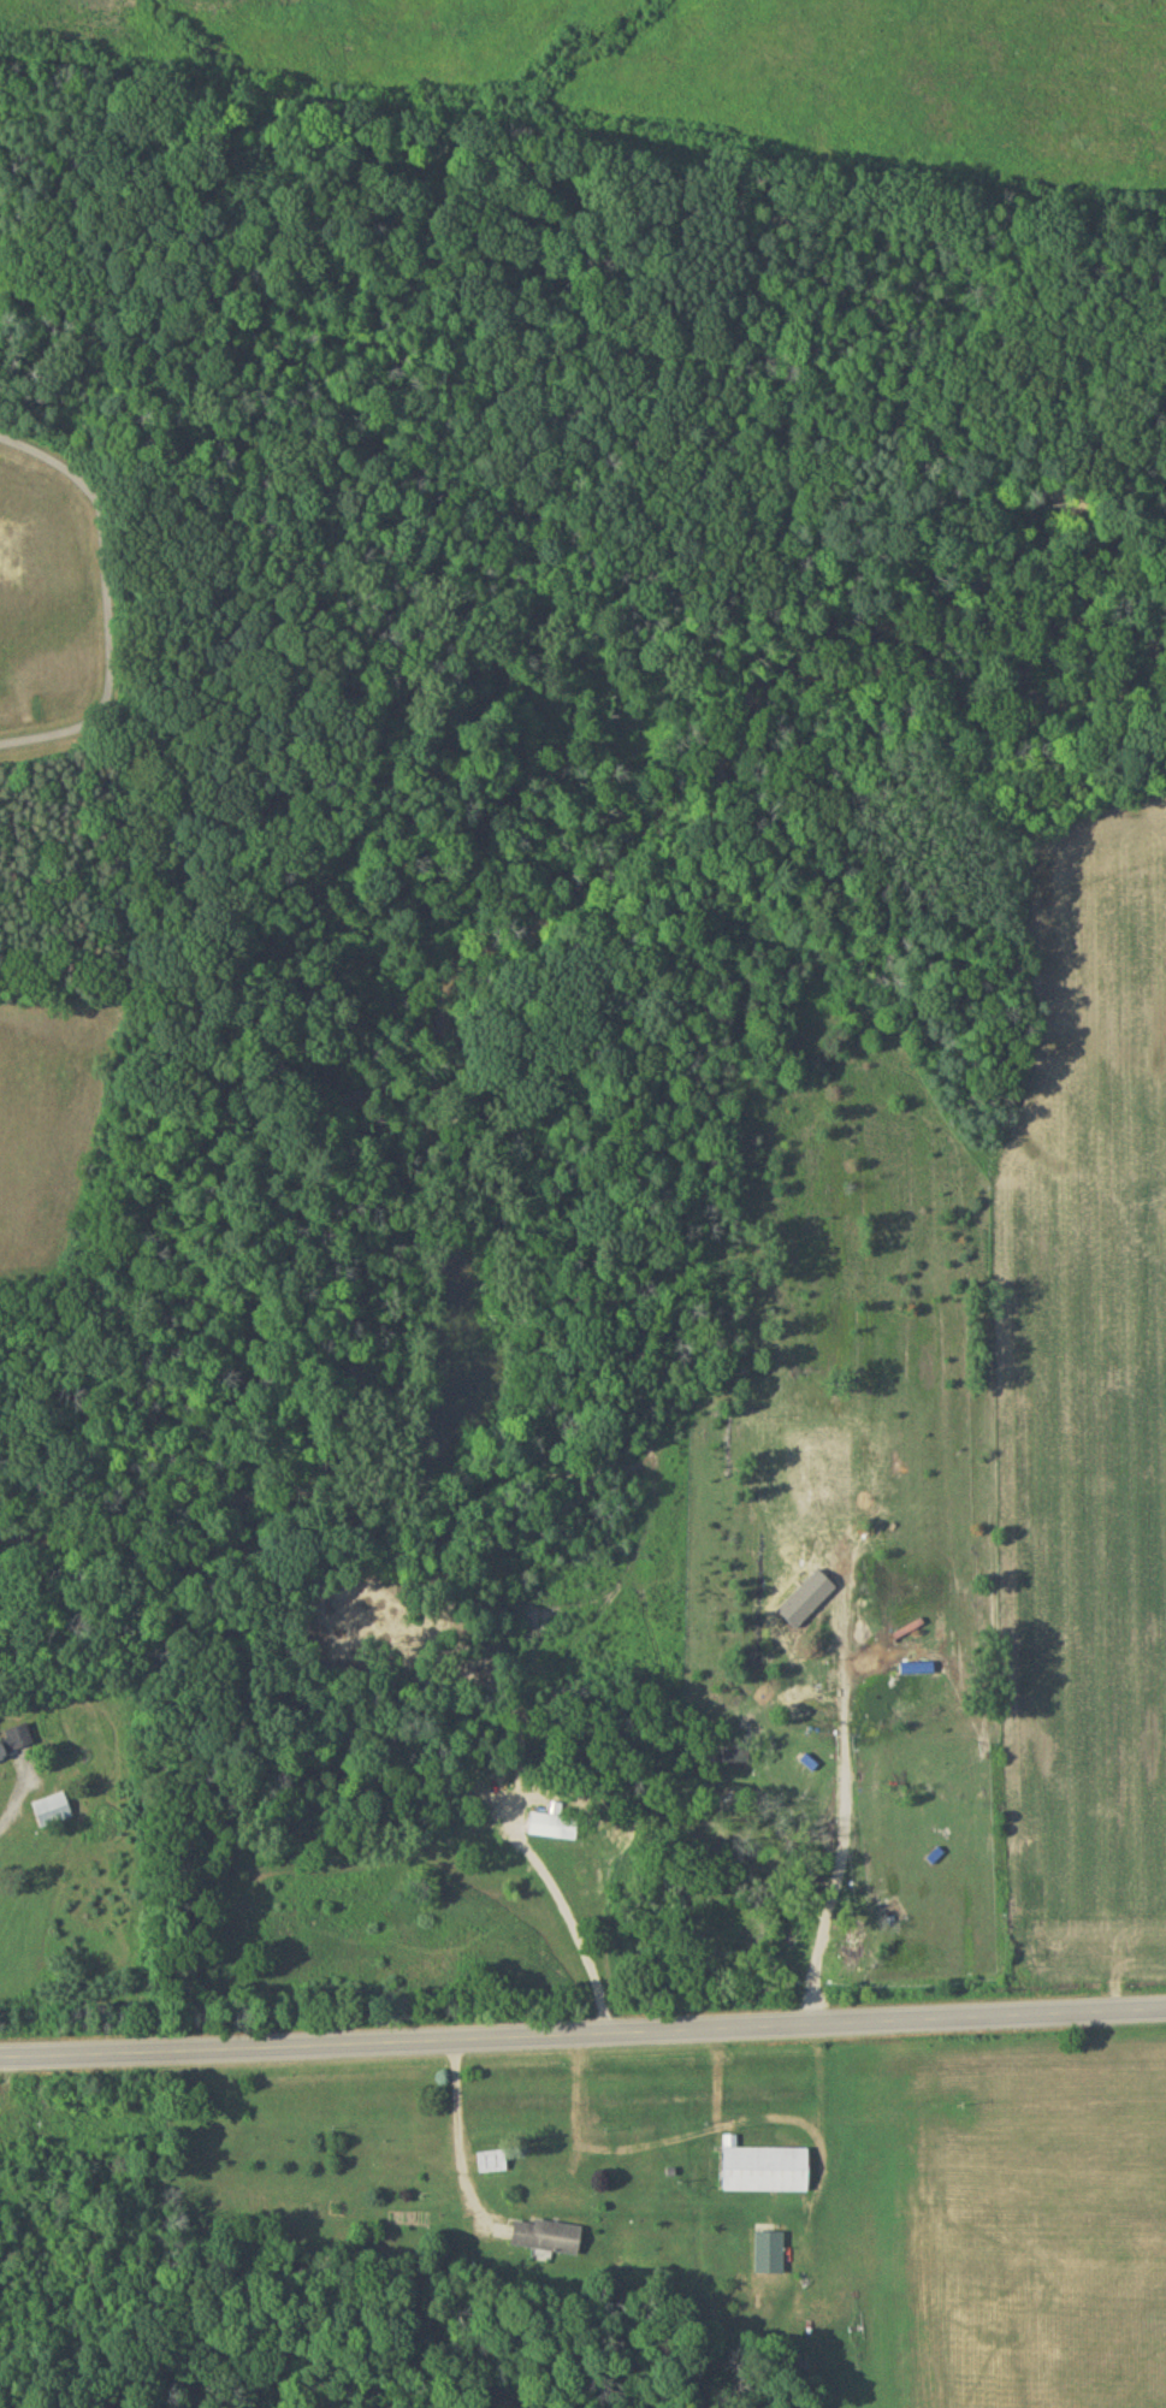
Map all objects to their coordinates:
airport: (728, 69)
road: (103, 607)
building: (14, 1746)
road: (12, 1801)
building: (52, 1815)
building: (551, 1830)
road: (582, 1941)
road: (582, 2036)
road: (457, 2146)
building: (491, 2166)
building: (764, 2173)
building: (548, 2241)
building: (769, 2256)

